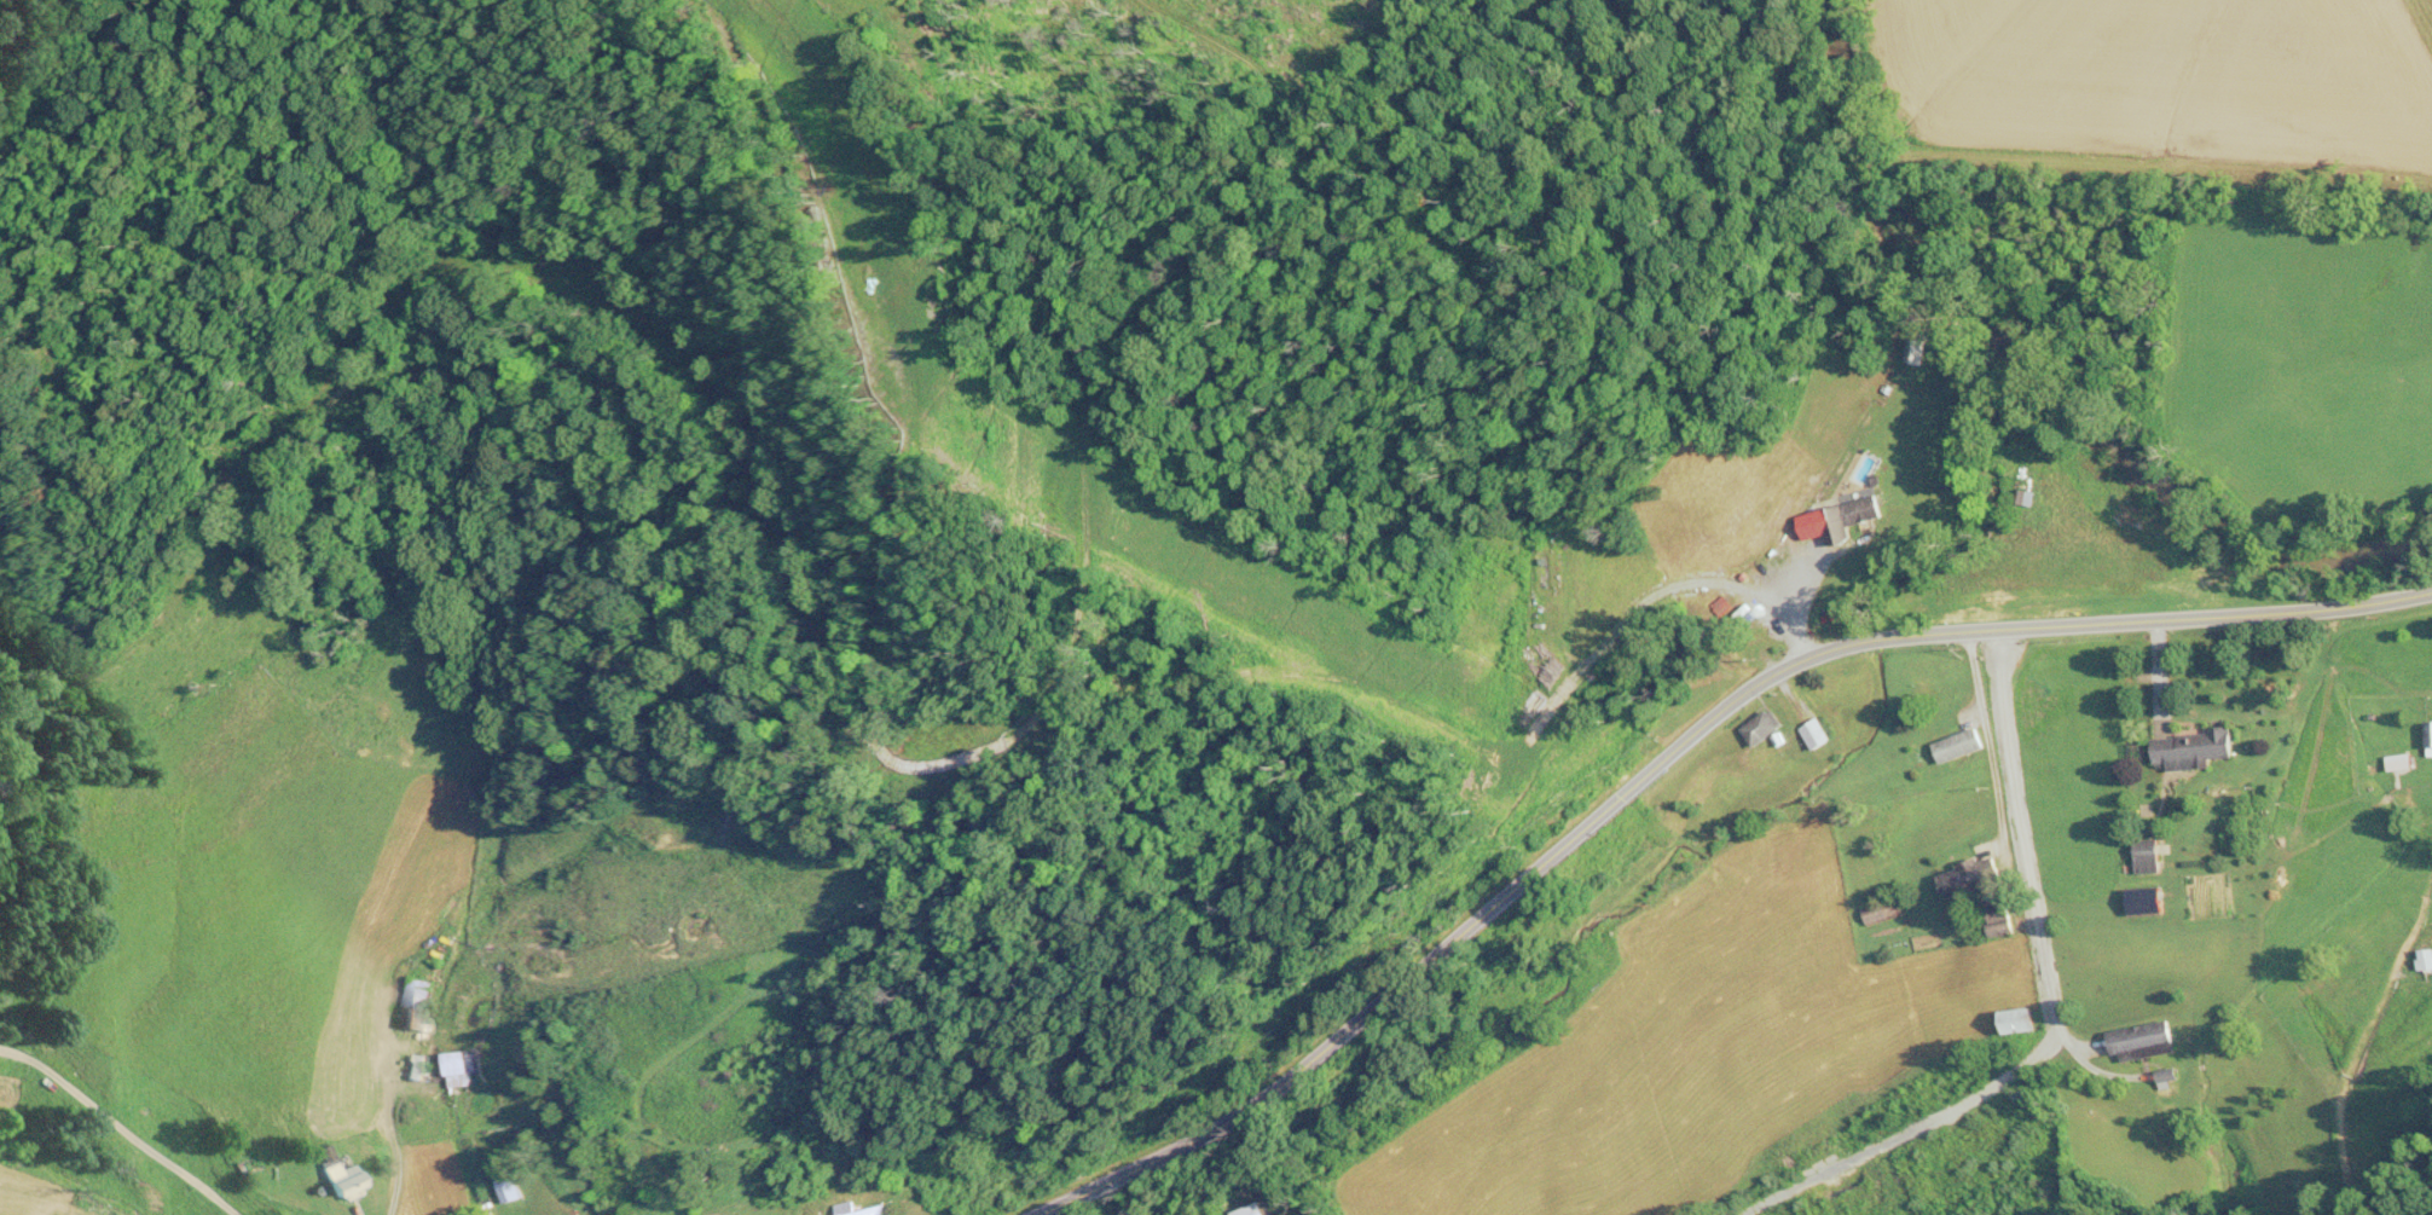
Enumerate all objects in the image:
building: (1916, 353)
river: (2034, 382)
building: (1861, 513)
road: (1660, 594)
building: (1765, 729)
building: (1817, 735)
building: (2430, 735)
building: (1957, 746)
building: (2191, 747)
road: (1674, 750)
building: (2399, 764)
building: (2148, 860)
building: (1970, 879)
road: (2029, 889)
building: (1881, 914)
building: (1999, 920)
building: (416, 1005)
building: (2020, 1022)
building: (2142, 1043)
building: (417, 1069)
building: (456, 1070)
building: (340, 1176)
building: (505, 1187)
building: (878, 1210)
building: (1244, 1213)

